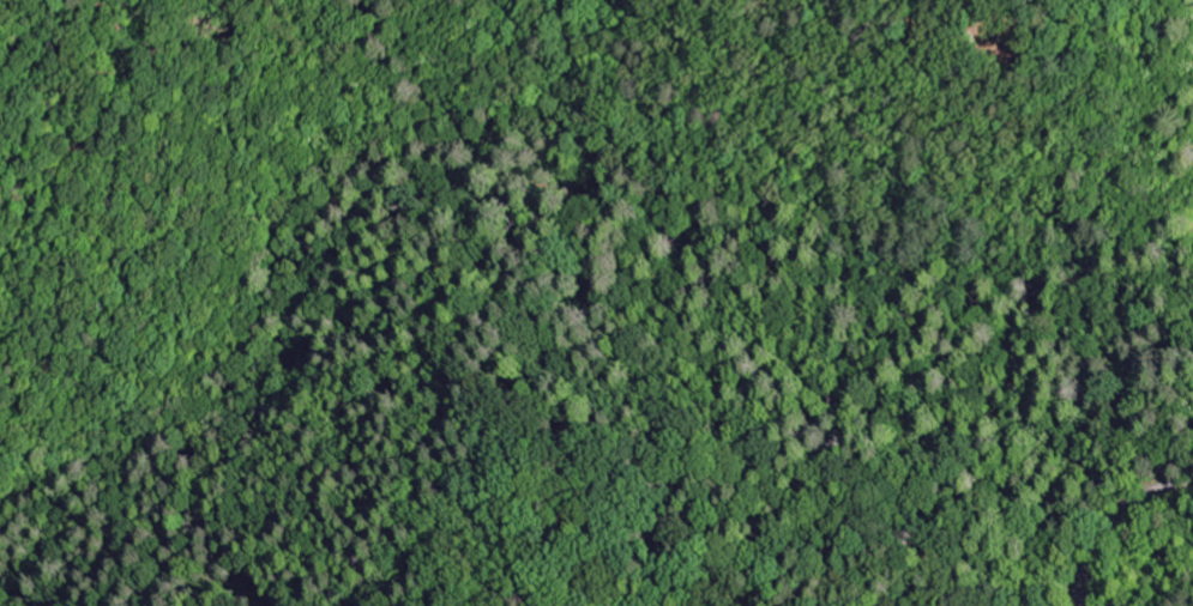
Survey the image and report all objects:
road: (1116, 526)

